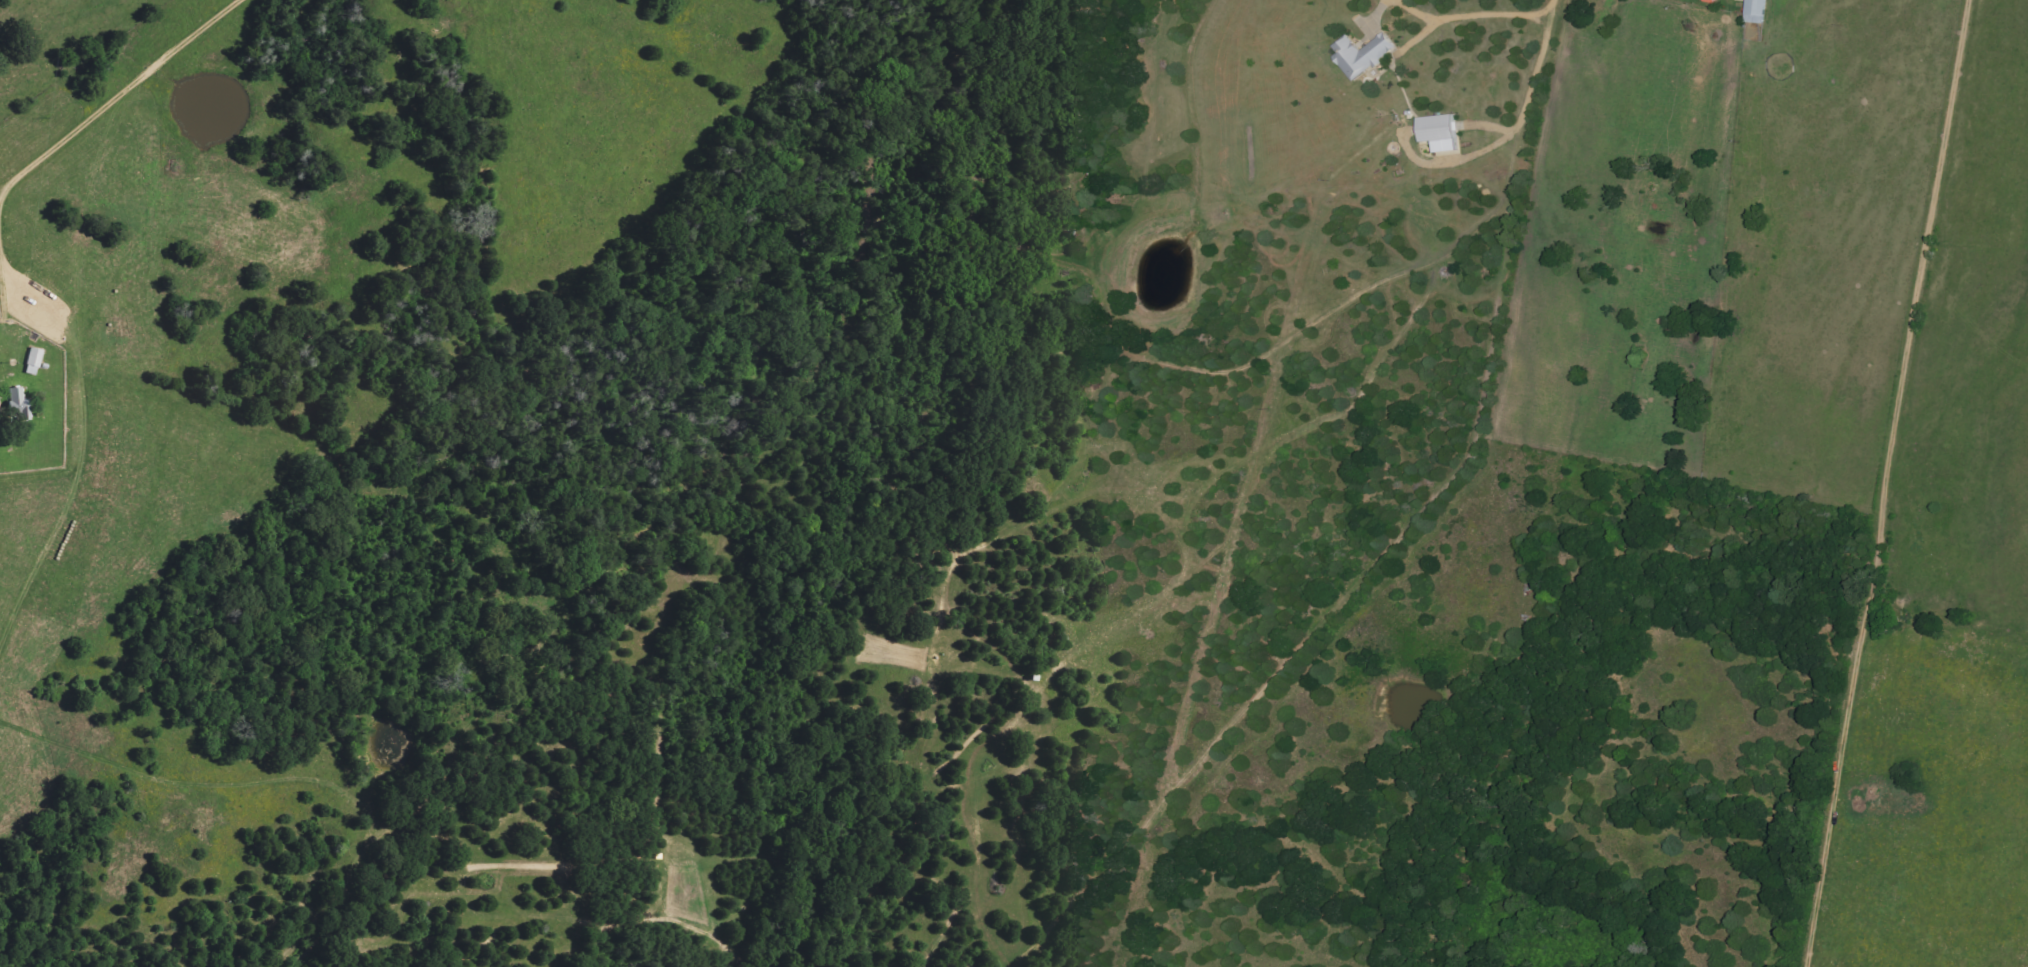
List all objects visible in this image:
building: (1755, 12)
road: (58, 43)
building: (1362, 56)
building: (1437, 134)
building: (36, 361)

